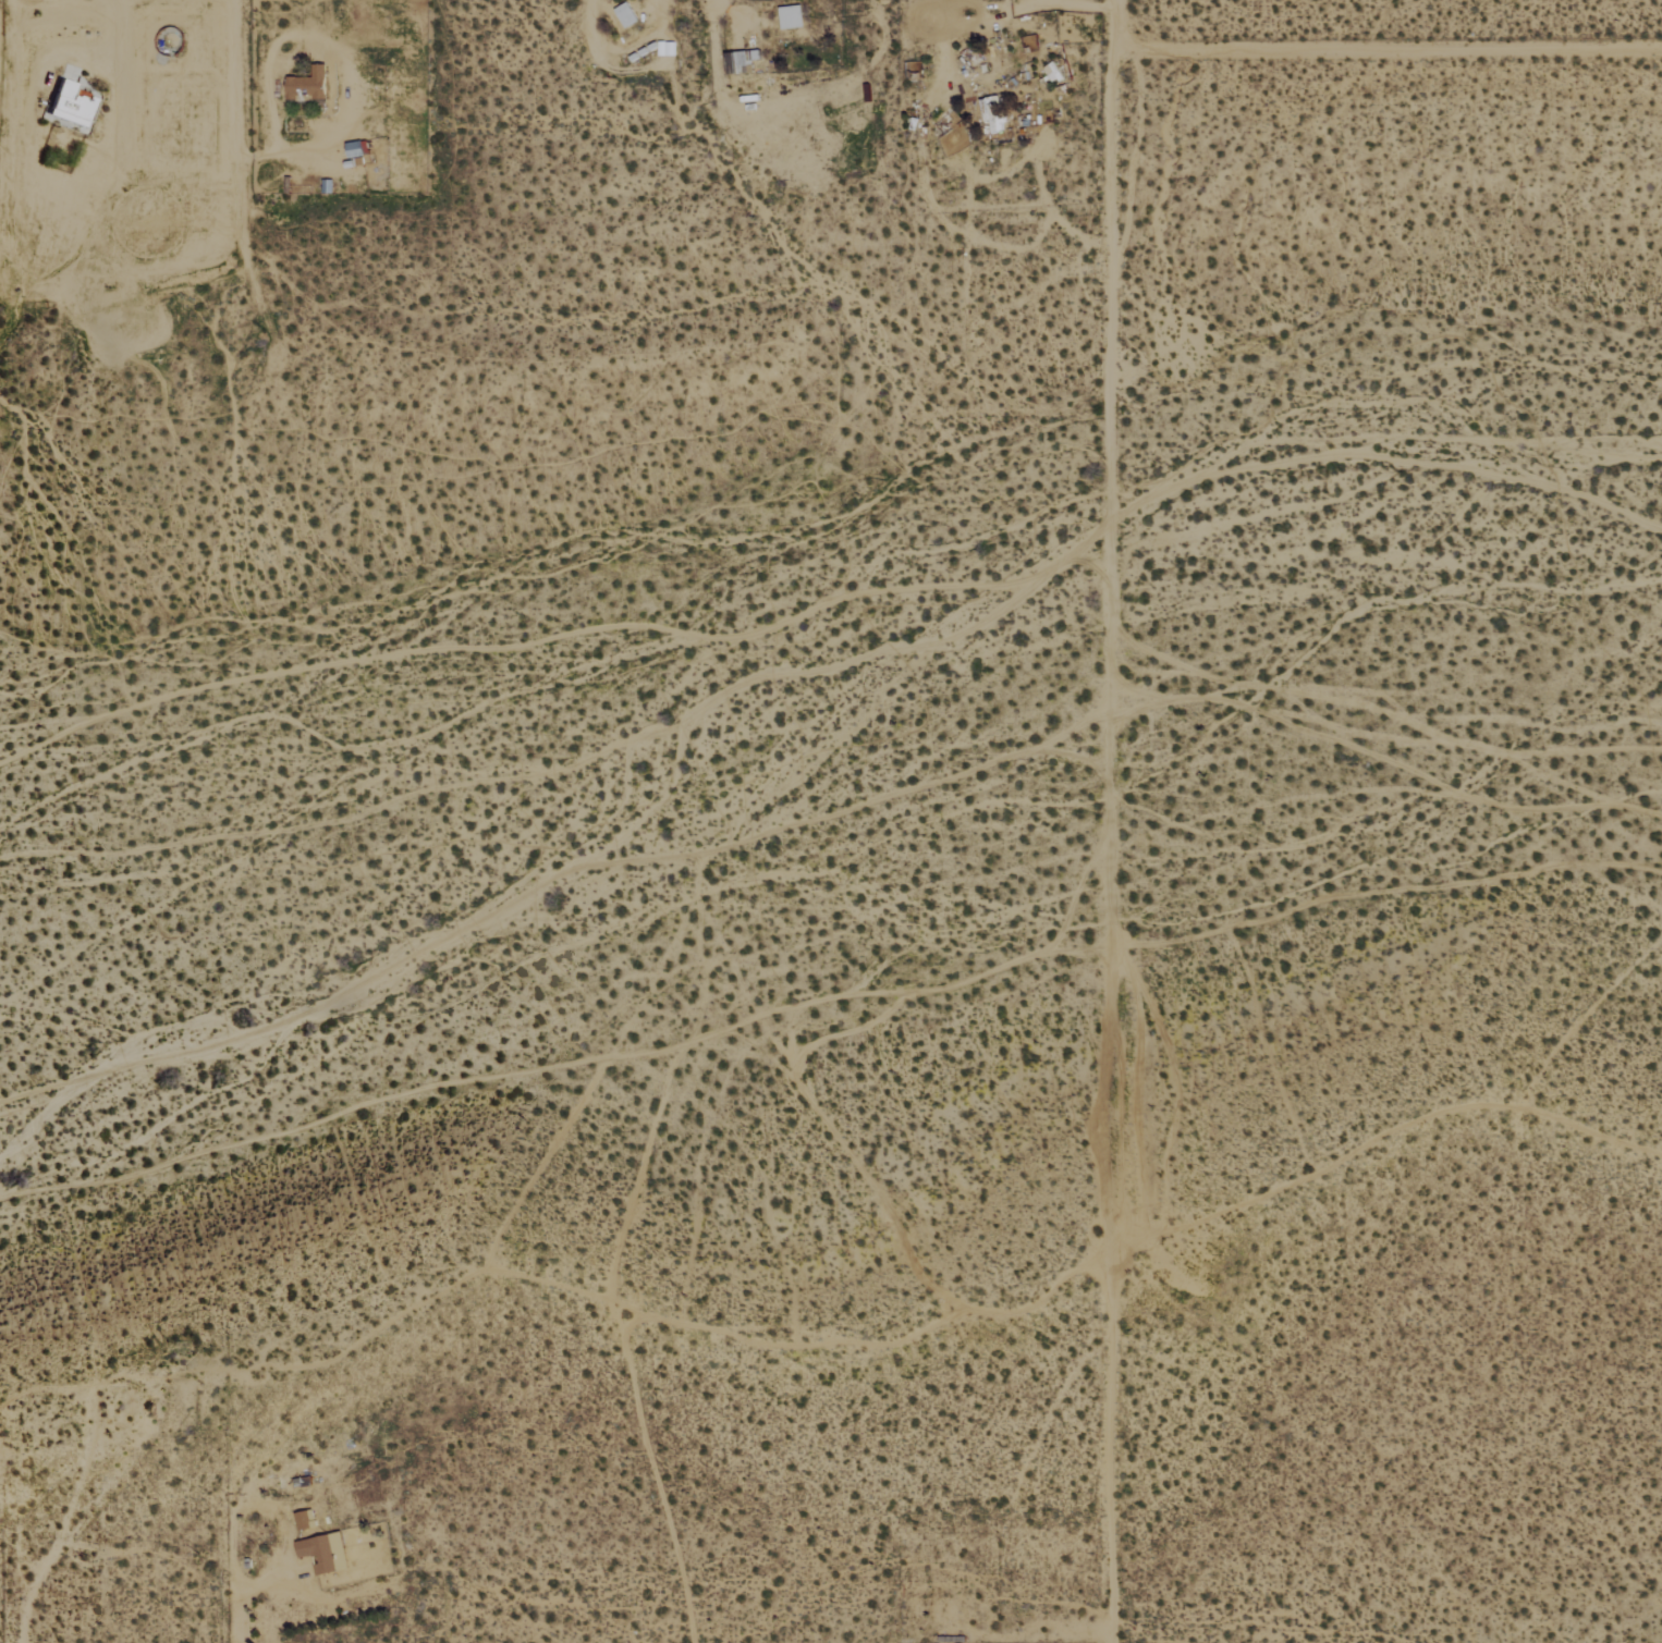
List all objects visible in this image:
building: (625, 14)
building: (791, 16)
road: (1113, 25)
building: (669, 49)
building: (751, 54)
building: (1052, 72)
building: (307, 84)
building: (72, 105)
building: (992, 113)
road: (1112, 846)
building: (302, 1520)
building: (323, 1553)

